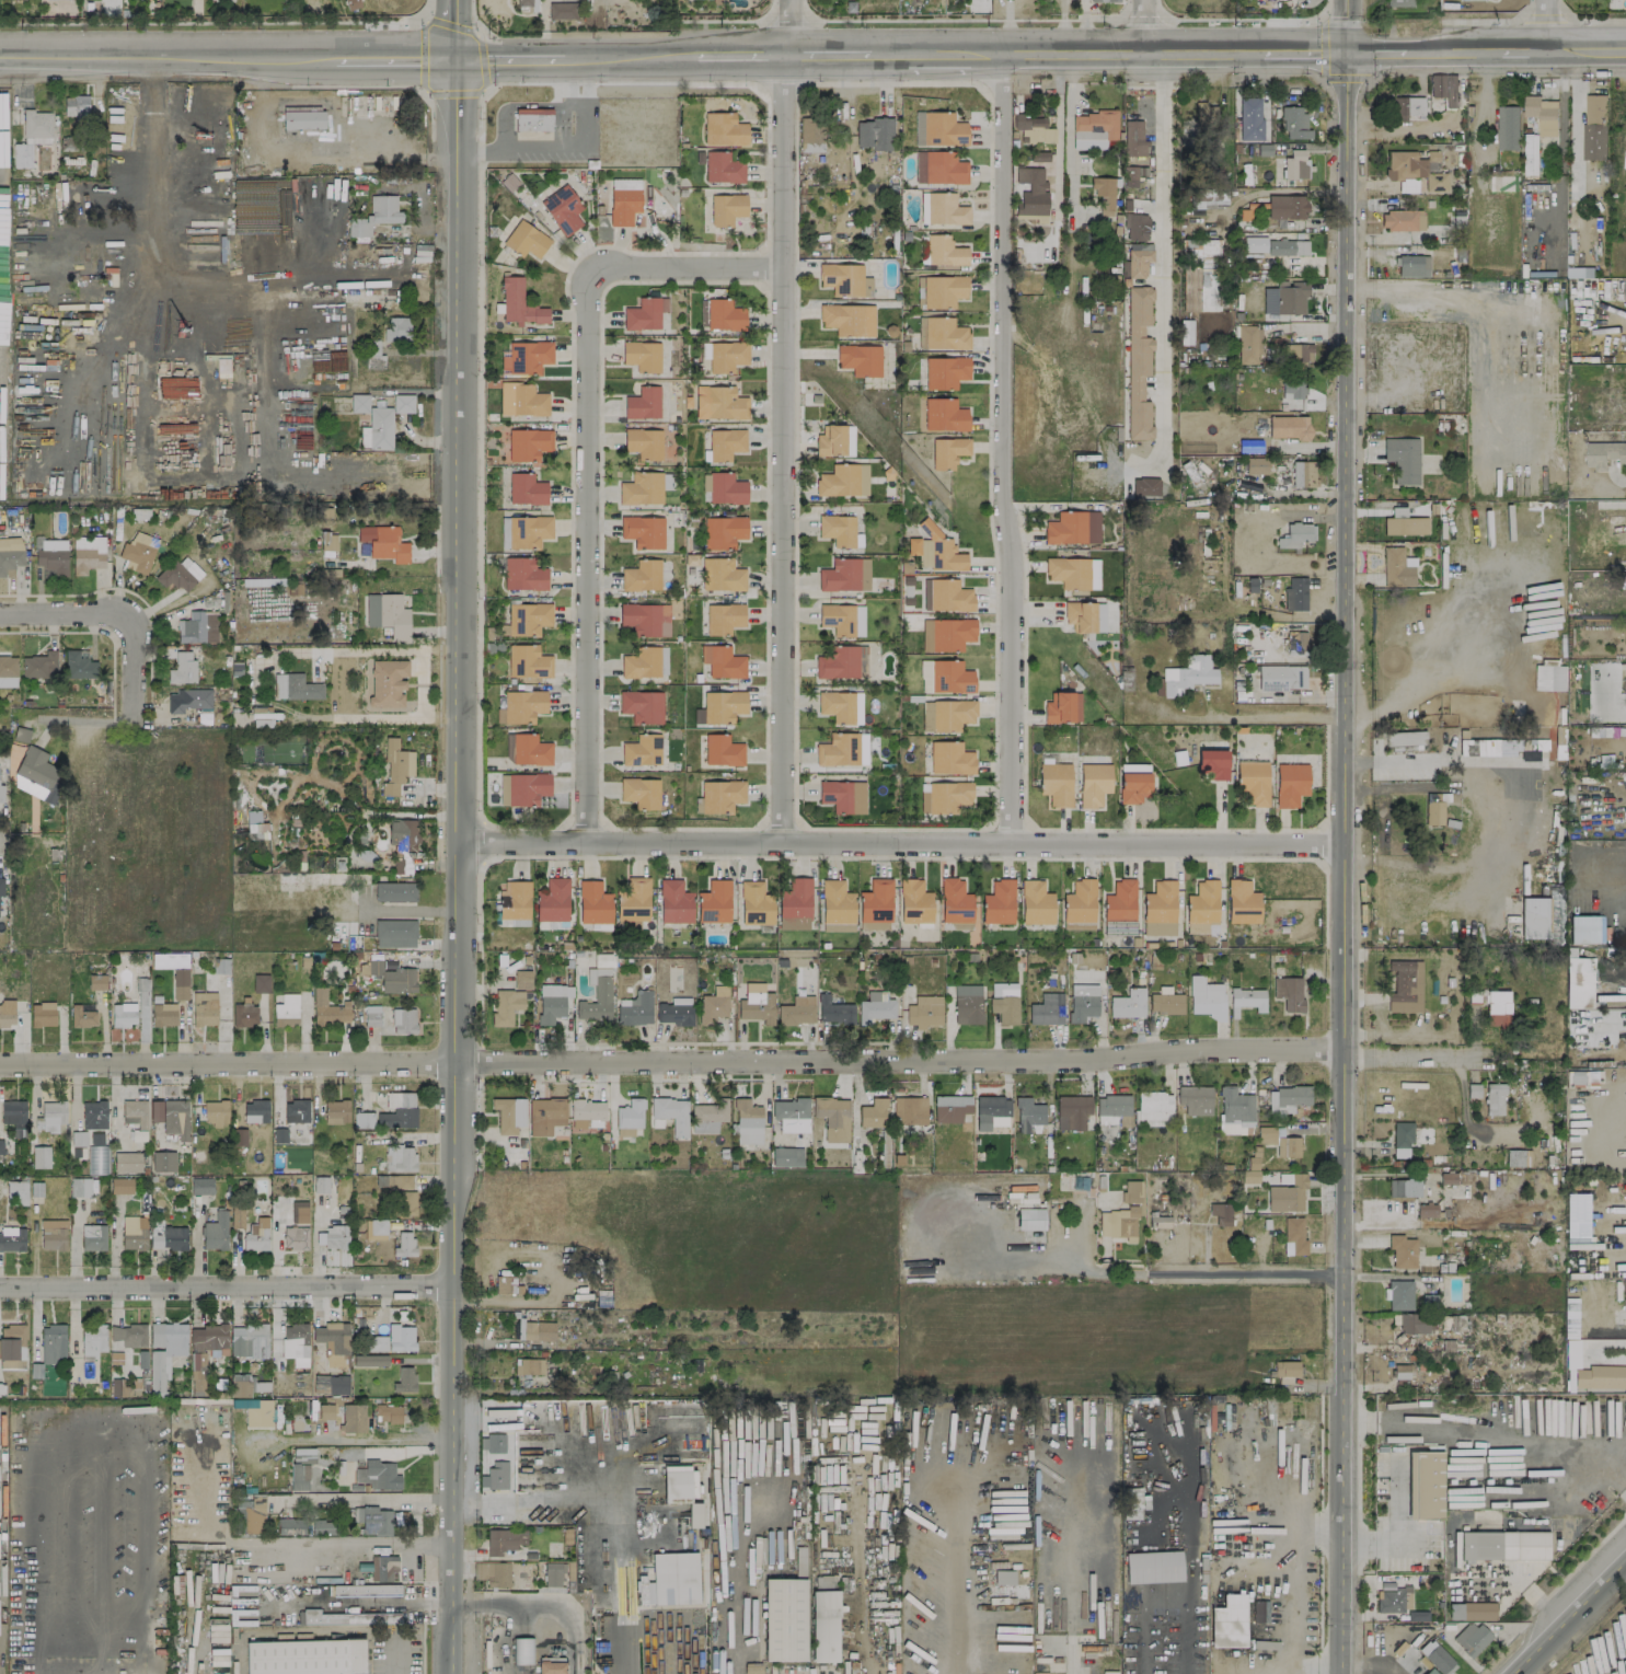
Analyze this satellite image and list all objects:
building: (1105, 0)
building: (1398, 2)
building: (527, 3)
building: (561, 10)
road: (542, 14)
road: (219, 21)
road: (1145, 24)
road: (1549, 24)
road: (543, 43)
road: (1302, 47)
road: (1374, 47)
road: (1453, 47)
road: (1525, 48)
road: (1588, 48)
road: (1132, 49)
road: (954, 50)
road: (828, 51)
road: (887, 51)
road: (741, 53)
road: (630, 55)
road: (165, 57)
road: (509, 57)
road: (393, 58)
building: (1444, 88)
road: (579, 93)
road: (509, 105)
building: (76, 106)
building: (1408, 107)
building: (1204, 113)
building: (1542, 114)
building: (302, 119)
building: (533, 119)
building: (1249, 119)
building: (1294, 123)
building: (34, 125)
building: (1508, 127)
building: (1594, 127)
building: (724, 129)
building: (938, 129)
building: (1034, 129)
building: (875, 134)
building: (811, 135)
road: (1062, 136)
building: (1133, 138)
road: (480, 152)
building: (1530, 154)
building: (1039, 155)
building: (1296, 164)
building: (723, 168)
building: (939, 168)
building: (1415, 171)
building: (1023, 174)
building: (1132, 175)
road: (1275, 191)
building: (83, 192)
building: (1104, 194)
building: (1209, 197)
building: (624, 200)
building: (1033, 206)
building: (1287, 207)
building: (727, 208)
building: (563, 209)
building: (943, 209)
building: (376, 215)
building: (1402, 220)
building: (1137, 226)
building: (1525, 236)
building: (527, 240)
building: (1275, 246)
building: (944, 251)
road: (1163, 255)
building: (1139, 259)
building: (1412, 266)
road: (674, 267)
building: (1206, 270)
building: (1575, 272)
building: (845, 279)
building: (943, 290)
building: (1624, 290)
building: (382, 297)
building: (1291, 297)
building: (519, 302)
building: (703, 312)
building: (645, 313)
building: (724, 315)
building: (847, 319)
building: (396, 328)
building: (1186, 332)
building: (1248, 345)
building: (1299, 353)
building: (373, 355)
building: (727, 355)
building: (642, 356)
building: (524, 357)
building: (860, 359)
building: (1138, 361)
building: (946, 371)
building: (1292, 388)
building: (521, 400)
building: (403, 403)
building: (643, 403)
building: (719, 403)
building: (945, 415)
road: (784, 420)
building: (373, 423)
building: (1289, 427)
building: (831, 440)
building: (644, 442)
building: (528, 443)
building: (725, 443)
road: (1003, 446)
building: (1249, 446)
building: (948, 451)
building: (1604, 454)
building: (1402, 459)
building: (1255, 465)
building: (1303, 474)
building: (843, 480)
building: (1145, 486)
building: (644, 487)
building: (726, 488)
building: (527, 489)
building: (1404, 523)
building: (1074, 527)
building: (838, 529)
building: (528, 531)
building: (643, 531)
building: (723, 531)
building: (1294, 535)
building: (383, 542)
building: (912, 545)
building: (942, 551)
building: (138, 552)
building: (88, 553)
building: (10, 555)
building: (51, 556)
building: (1396, 568)
road: (587, 572)
building: (1073, 573)
building: (180, 574)
building: (523, 574)
building: (642, 575)
building: (722, 575)
building: (844, 575)
building: (1295, 594)
building: (949, 596)
road: (53, 612)
building: (388, 614)
building: (1080, 615)
building: (528, 617)
building: (724, 617)
building: (645, 619)
building: (842, 619)
building: (197, 627)
building: (947, 634)
building: (1296, 640)
road: (393, 650)
road: (134, 655)
building: (528, 661)
building: (723, 661)
building: (645, 662)
building: (842, 662)
building: (39, 665)
building: (79, 665)
building: (8, 666)
building: (182, 668)
building: (1188, 674)
building: (946, 677)
building: (1281, 678)
building: (384, 682)
road: (254, 683)
road: (422, 683)
road: (330, 684)
building: (295, 686)
building: (187, 700)
building: (523, 705)
building: (642, 705)
building: (723, 705)
building: (840, 706)
building: (1059, 707)
building: (946, 714)
road: (1277, 715)
road: (393, 716)
building: (264, 718)
building: (1405, 737)
building: (530, 750)
building: (642, 750)
building: (723, 750)
building: (843, 750)
building: (1529, 754)
building: (950, 759)
building: (1212, 763)
building: (395, 766)
building: (36, 775)
building: (1132, 782)
building: (1253, 782)
building: (1057, 783)
building: (1094, 784)
building: (1290, 784)
building: (523, 788)
road: (1357, 789)
building: (641, 792)
building: (1, 793)
building: (720, 795)
building: (843, 796)
building: (944, 796)
building: (1433, 808)
road: (1490, 823)
building: (254, 826)
building: (403, 835)
road: (457, 836)
road: (1344, 836)
road: (3, 838)
road: (899, 841)
road: (1357, 858)
building: (1, 886)
building: (394, 891)
building: (1120, 900)
building: (876, 901)
building: (956, 901)
building: (514, 902)
building: (632, 902)
building: (674, 902)
building: (714, 902)
building: (914, 902)
building: (999, 902)
building: (1036, 902)
building: (1242, 902)
building: (754, 903)
building: (552, 904)
building: (795, 904)
building: (595, 905)
building: (835, 905)
building: (1079, 905)
building: (1201, 907)
building: (1160, 909)
road: (407, 912)
building: (1534, 917)
building: (874, 926)
building: (1584, 928)
building: (395, 933)
building: (392, 978)
building: (522, 979)
building: (96, 981)
building: (1578, 981)
building: (180, 983)
building: (261, 983)
building: (1405, 988)
building: (1289, 992)
building: (597, 994)
building: (1206, 997)
building: (1246, 1000)
building: (552, 1002)
building: (1083, 1002)
building: (1165, 1002)
building: (967, 1004)
building: (1128, 1004)
building: (1005, 1005)
building: (506, 1006)
building: (757, 1006)
building: (875, 1006)
building: (204, 1008)
building: (328, 1008)
building: (635, 1008)
building: (712, 1008)
building: (1047, 1008)
building: (1497, 1008)
building: (126, 1011)
building: (286, 1011)
building: (674, 1011)
building: (797, 1011)
building: (834, 1011)
building: (924, 1011)
building: (7, 1013)
building: (43, 1014)
building: (163, 1014)
building: (244, 1014)
building: (371, 1015)
building: (81, 1016)
building: (403, 1021)
road: (747, 1054)
building: (1584, 1076)
building: (1287, 1098)
building: (1195, 1099)
building: (1494, 1099)
building: (1154, 1106)
building: (1236, 1107)
building: (952, 1108)
building: (911, 1109)
building: (1112, 1109)
building: (296, 1110)
building: (992, 1110)
building: (255, 1111)
building: (336, 1111)
building: (397, 1111)
building: (1072, 1111)
building: (135, 1112)
building: (215, 1112)
building: (509, 1113)
building: (669, 1113)
building: (791, 1113)
building: (873, 1113)
building: (1028, 1113)
building: (94, 1115)
building: (545, 1115)
building: (14, 1116)
building: (50, 1116)
building: (586, 1116)
building: (707, 1116)
building: (629, 1117)
building: (175, 1118)
building: (832, 1118)
building: (364, 1119)
building: (747, 1122)
building: (239, 1136)
building: (1404, 1138)
building: (1279, 1141)
building: (0, 1146)
building: (41, 1156)
building: (786, 1156)
building: (400, 1157)
building: (1514, 1157)
building: (97, 1159)
building: (163, 1161)
building: (127, 1162)
building: (1249, 1176)
building: (120, 1185)
building: (200, 1185)
building: (320, 1185)
building: (79, 1186)
building: (1404, 1188)
building: (1131, 1191)
building: (16, 1192)
building: (1288, 1194)
building: (404, 1202)
building: (1426, 1210)
building: (1576, 1210)
building: (1220, 1214)
building: (237, 1216)
building: (1029, 1219)
building: (1119, 1224)
building: (378, 1226)
building: (215, 1232)
building: (132, 1233)
building: (53, 1234)
building: (255, 1234)
building: (166, 1236)
building: (1293, 1236)
building: (93, 1237)
building: (295, 1237)
building: (333, 1237)
building: (12, 1238)
road: (314, 1239)
building: (404, 1244)
building: (1402, 1250)
road: (1125, 1272)
road: (314, 1274)
building: (505, 1284)
road: (228, 1285)
building: (1399, 1295)
building: (1412, 1324)
building: (537, 1330)
building: (127, 1336)
building: (393, 1339)
building: (92, 1340)
building: (249, 1340)
building: (53, 1342)
building: (333, 1342)
road: (1603, 1342)
building: (293, 1343)
building: (164, 1351)
building: (205, 1351)
building: (369, 1360)
building: (529, 1365)
building: (1285, 1371)
building: (1402, 1374)
building: (1601, 1377)
building: (404, 1379)
building: (330, 1384)
building: (241, 1385)
building: (326, 1411)
building: (257, 1412)
building: (391, 1413)
building: (353, 1418)
road: (1456, 1423)
road: (139, 1429)
road: (349, 1436)
building: (493, 1443)
road: (1604, 1450)
building: (303, 1454)
road: (522, 1465)
building: (378, 1475)
building: (496, 1475)
building: (299, 1476)
building: (679, 1481)
building: (1425, 1485)
road: (365, 1497)
building: (1131, 1503)
road: (560, 1505)
building: (694, 1514)
building: (254, 1515)
building: (239, 1517)
building: (373, 1521)
building: (290, 1526)
building: (324, 1527)
road: (281, 1538)
building: (504, 1539)
building: (1503, 1545)
road: (854, 1562)
building: (382, 1567)
building: (1153, 1567)
road: (904, 1570)
building: (493, 1573)
building: (553, 1573)
building: (1004, 1577)
building: (670, 1580)
road: (743, 1583)
building: (365, 1589)
road: (1164, 1595)
building: (1394, 1598)
road: (542, 1604)
building: (1259, 1610)
building: (1471, 1612)
road: (1567, 1616)
building: (347, 1617)
building: (784, 1619)
building: (1229, 1621)
building: (824, 1625)
road: (1145, 1635)
road: (1184, 1635)
building: (1471, 1638)
road: (501, 1639)
building: (521, 1650)
road: (33, 1655)
building: (305, 1656)
building: (1437, 1658)
road: (1070, 1663)
building: (551, 1667)
building: (1430, 1672)

